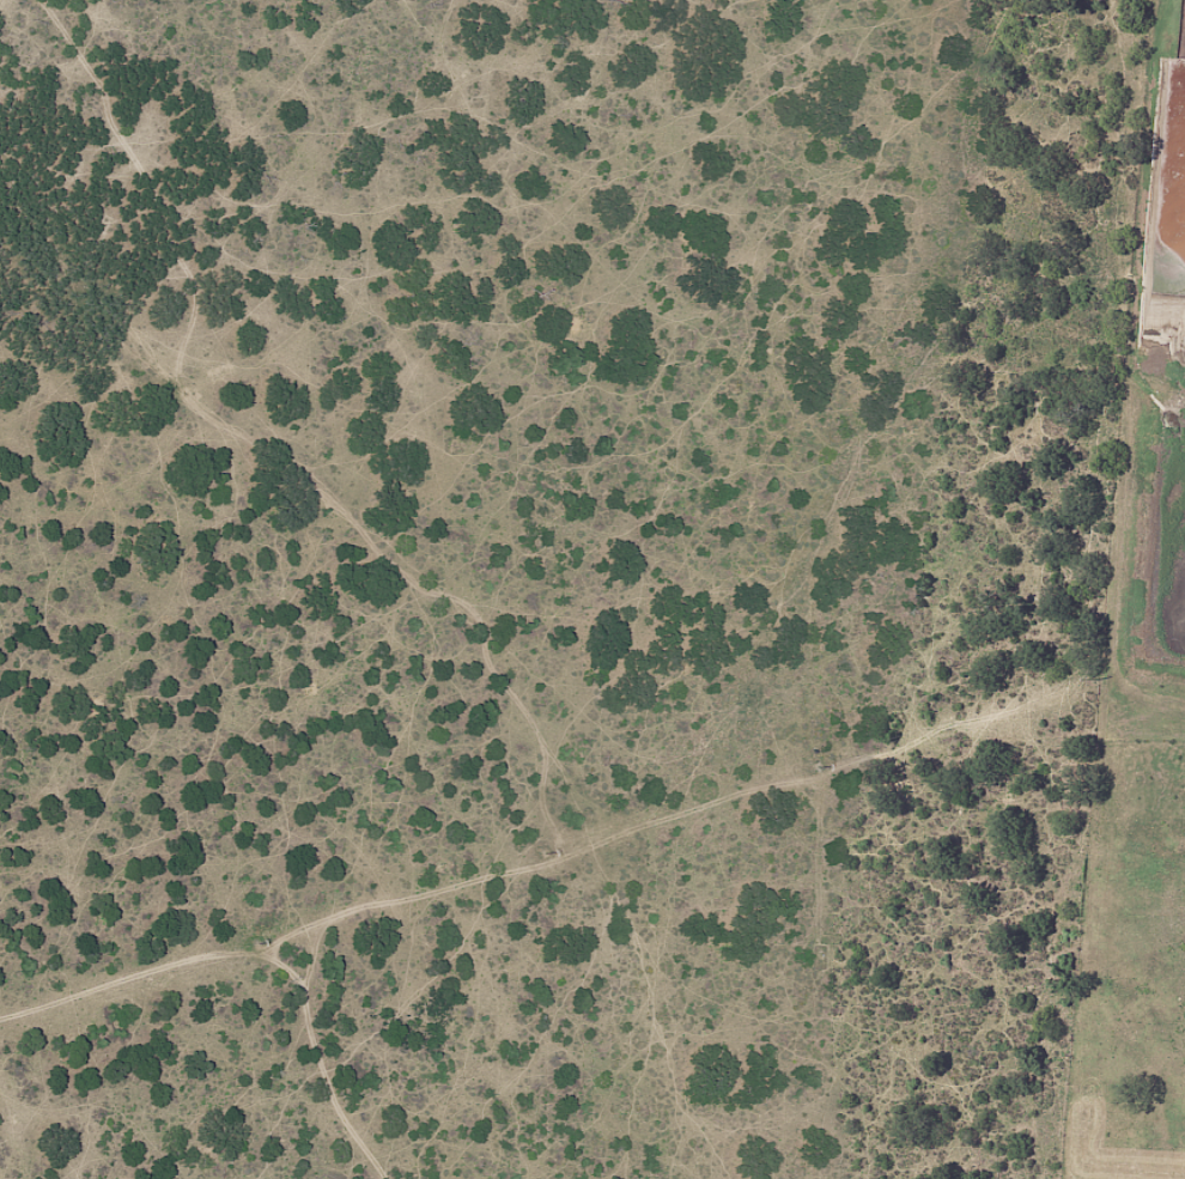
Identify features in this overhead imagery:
power tower: (1101, 677)
power tower: (822, 766)
power tower: (546, 852)
power tower: (261, 942)
road: (249, 1004)

